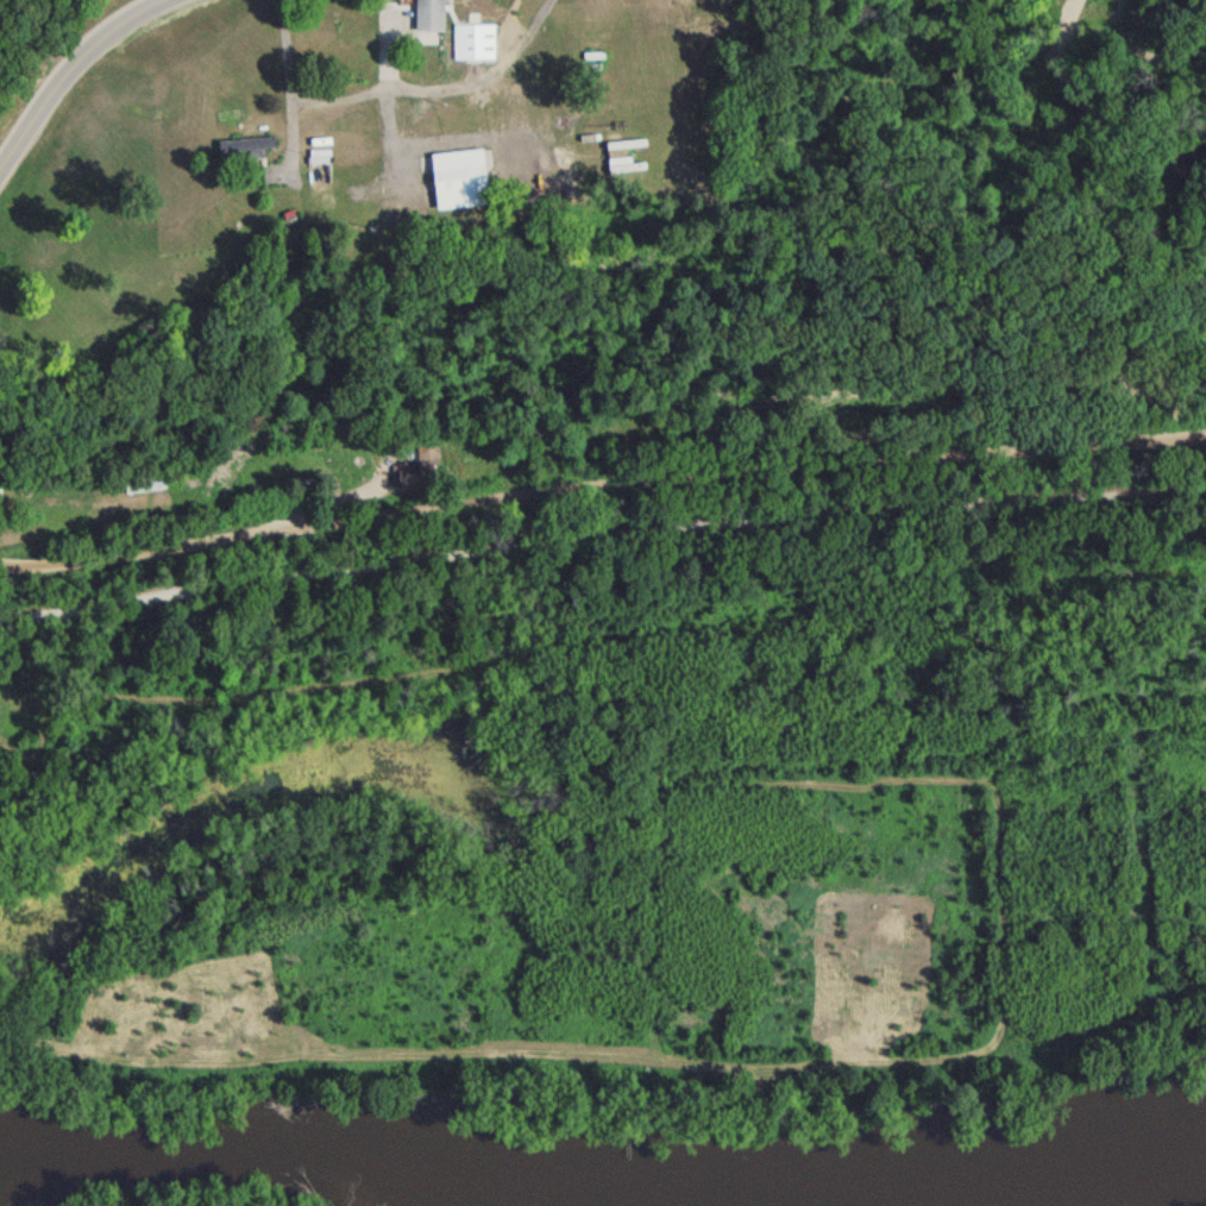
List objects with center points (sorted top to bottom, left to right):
building: (427, 19)
road: (56, 77)
road: (480, 83)
road: (282, 88)
road: (379, 100)
road: (331, 103)
building: (243, 153)
building: (617, 170)
building: (457, 184)
building: (417, 476)
road: (601, 486)
building: (142, 488)
road: (601, 553)
river: (1094, 1186)

